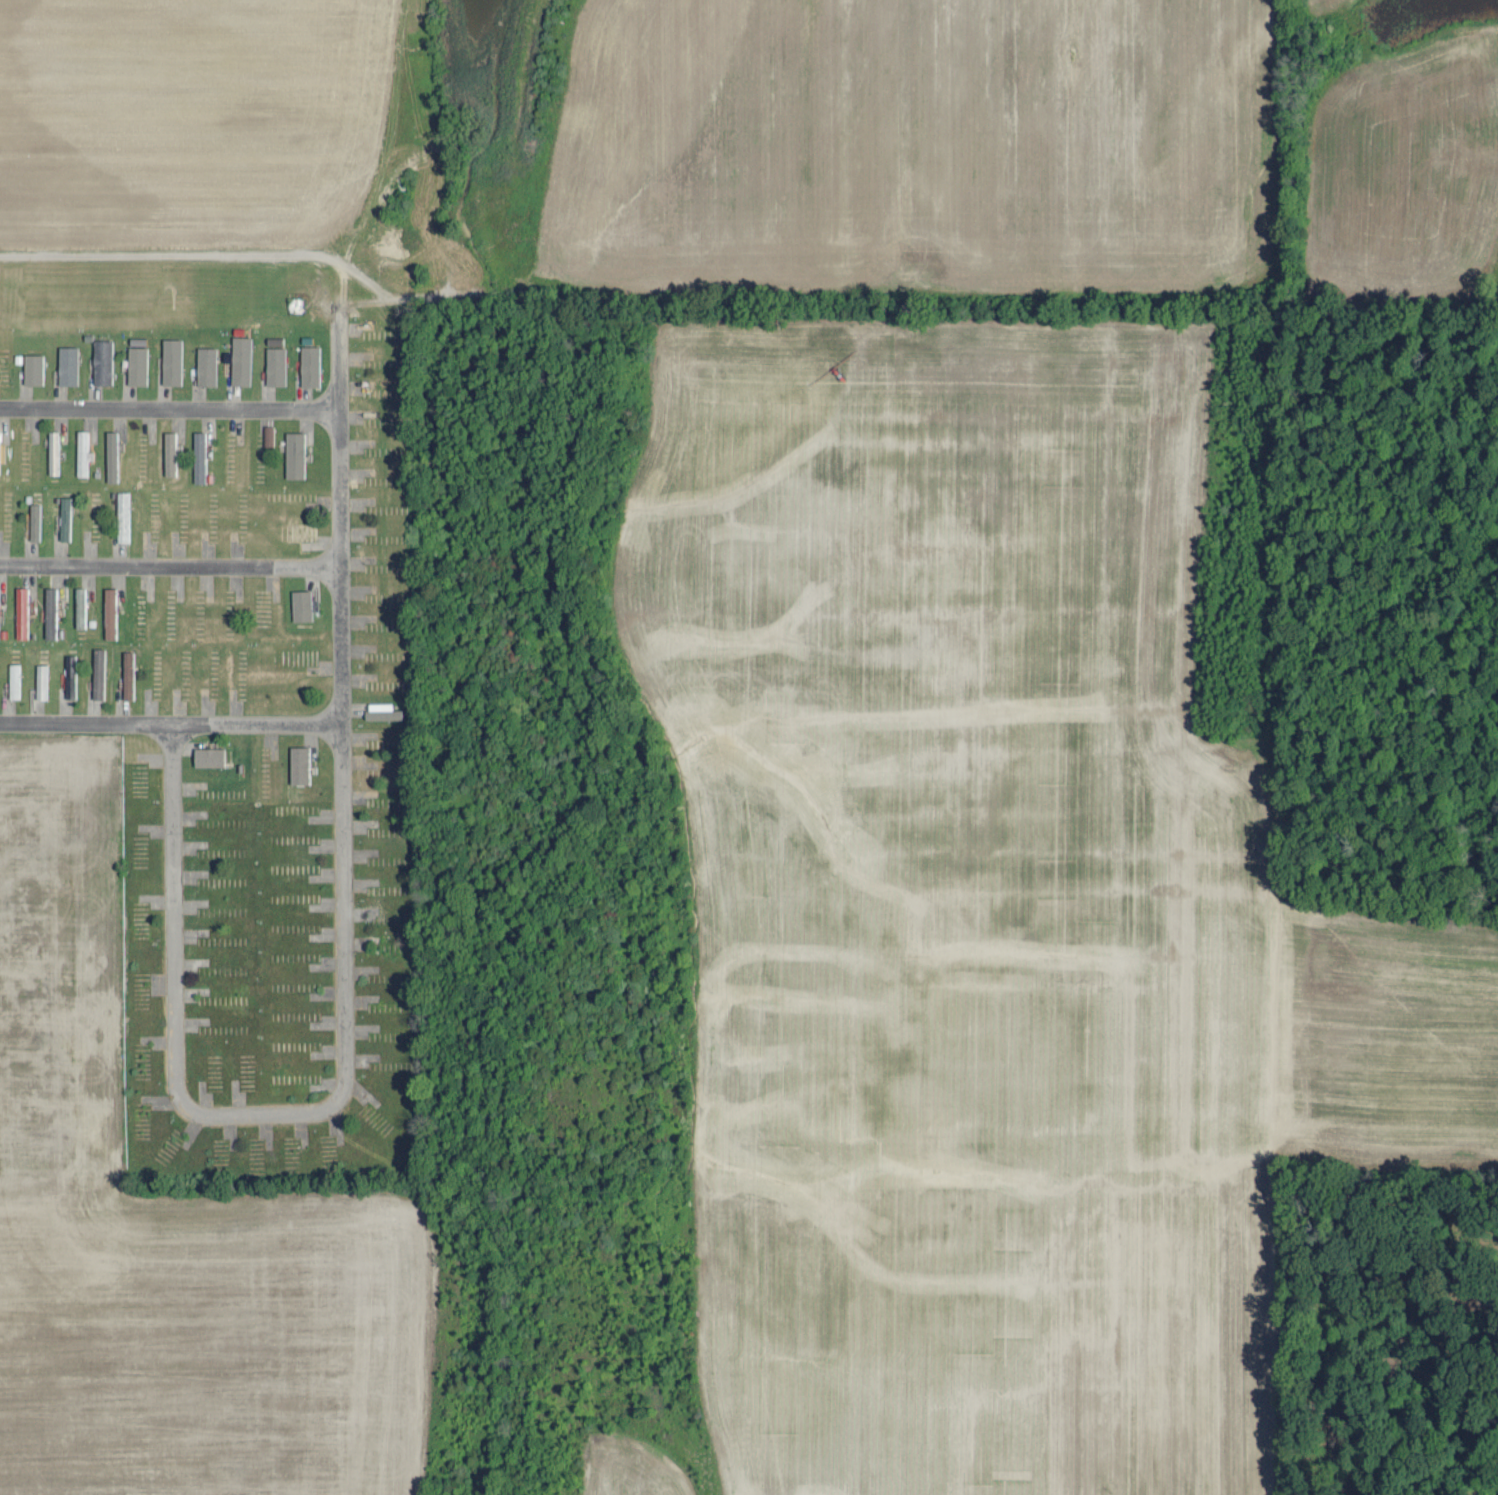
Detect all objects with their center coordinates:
building: (240, 359)
building: (102, 360)
building: (137, 360)
building: (171, 360)
building: (67, 364)
building: (205, 365)
building: (275, 365)
building: (309, 365)
building: (32, 367)
road: (133, 408)
road: (302, 410)
building: (267, 434)
building: (53, 451)
building: (81, 452)
building: (169, 452)
building: (294, 454)
building: (111, 455)
building: (123, 515)
building: (34, 521)
building: (299, 531)
road: (168, 566)
building: (301, 604)
building: (79, 606)
building: (21, 611)
building: (49, 611)
building: (109, 612)
road: (341, 651)
building: (98, 673)
building: (127, 674)
building: (70, 675)
building: (14, 680)
building: (41, 680)
building: (382, 710)
road: (170, 722)
building: (208, 756)
building: (299, 764)
road: (175, 1077)

